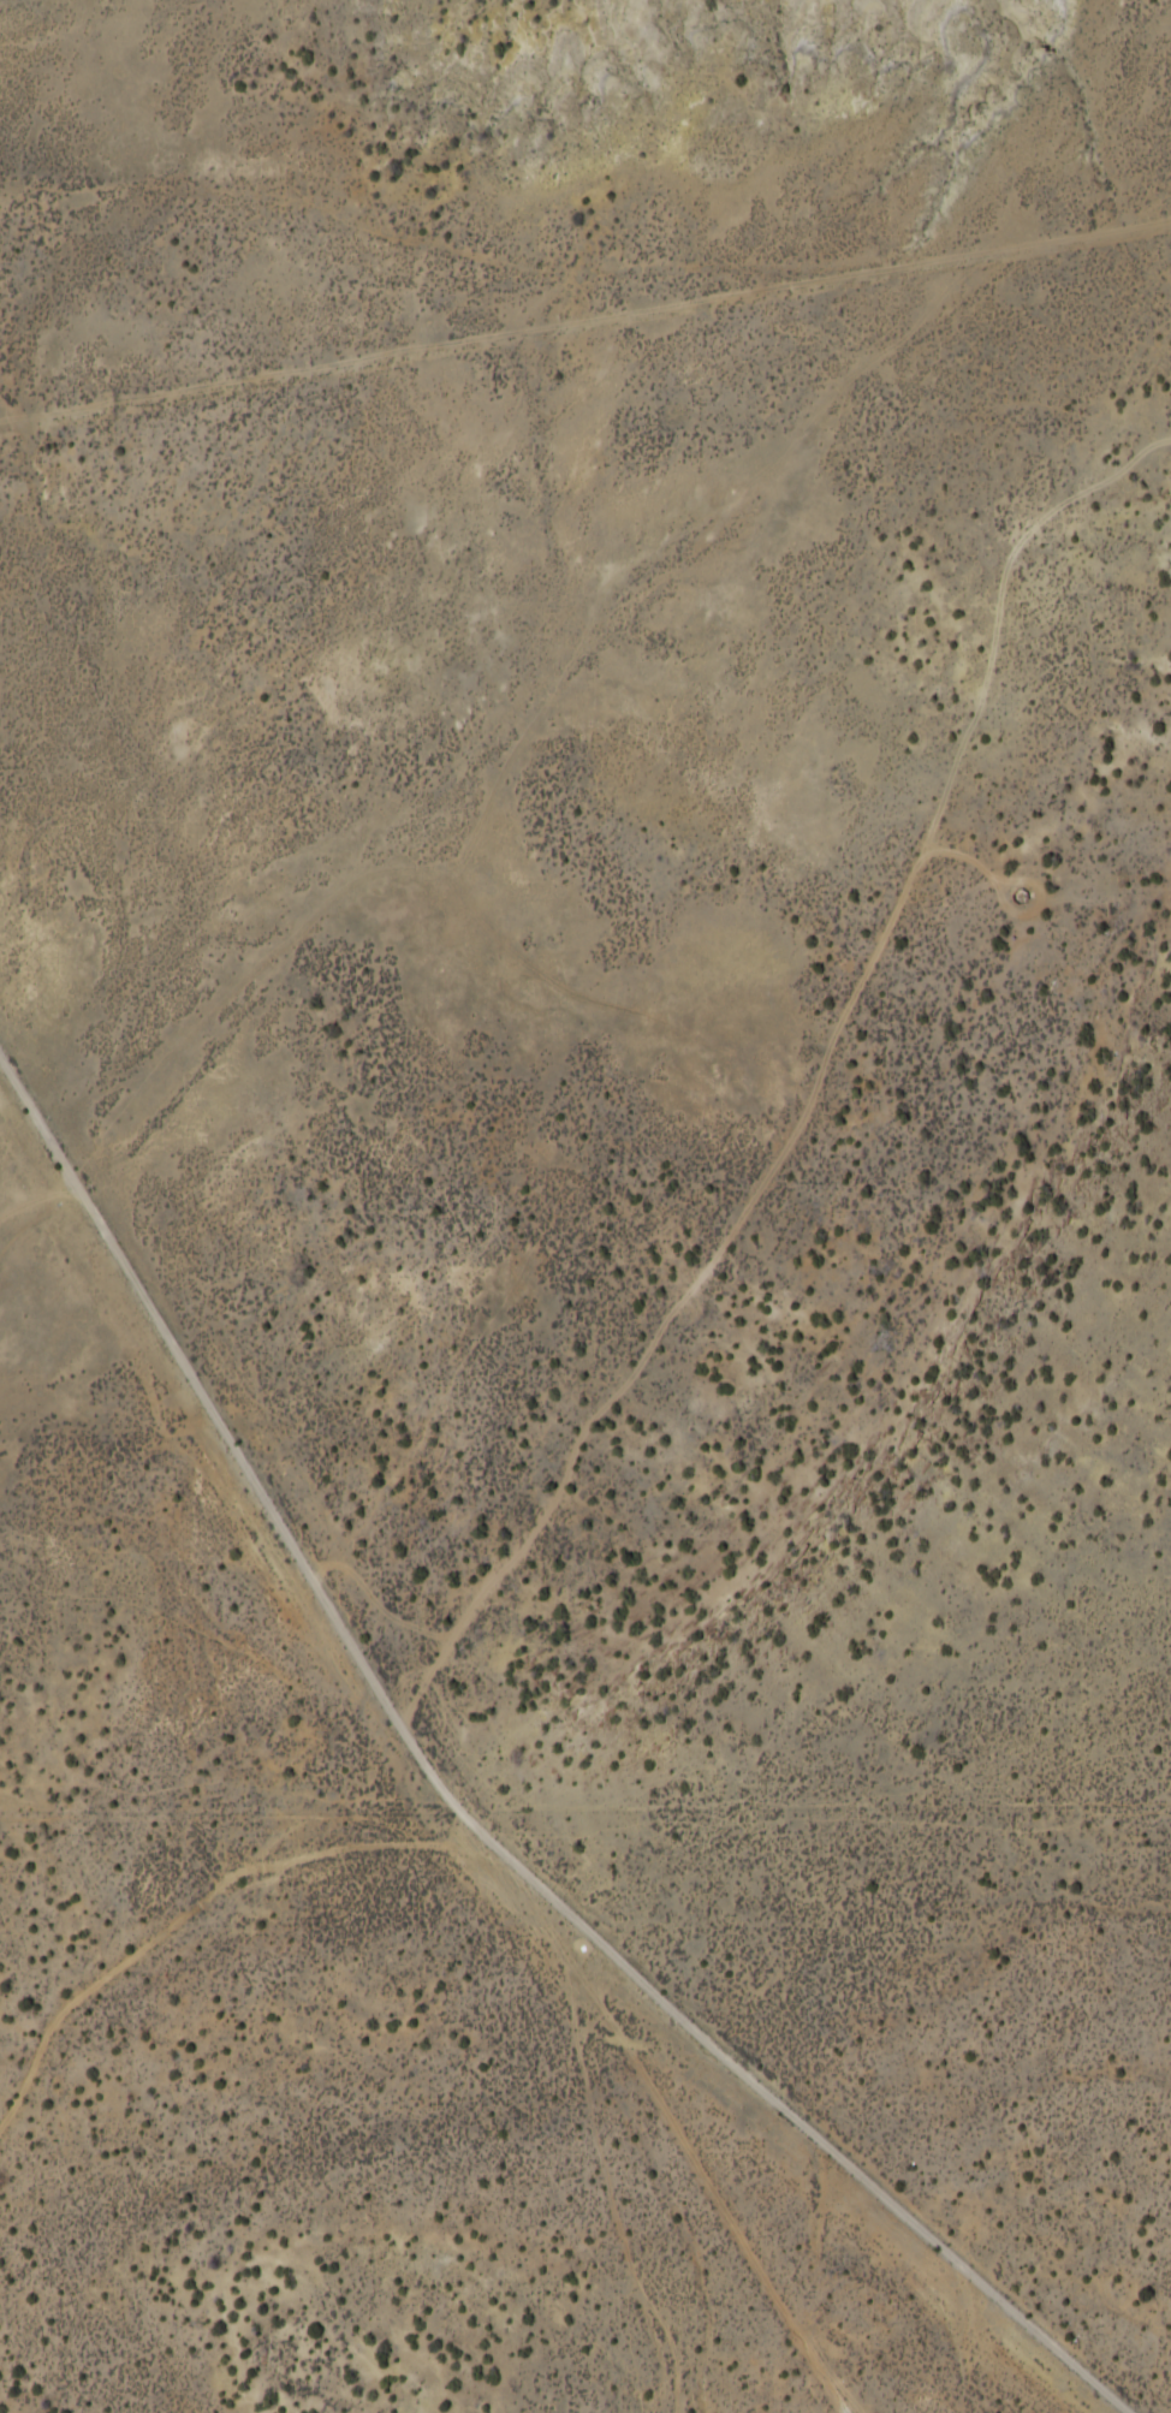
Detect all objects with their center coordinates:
road: (583, 269)
road: (832, 1052)
road: (438, 1831)
road: (525, 2215)

